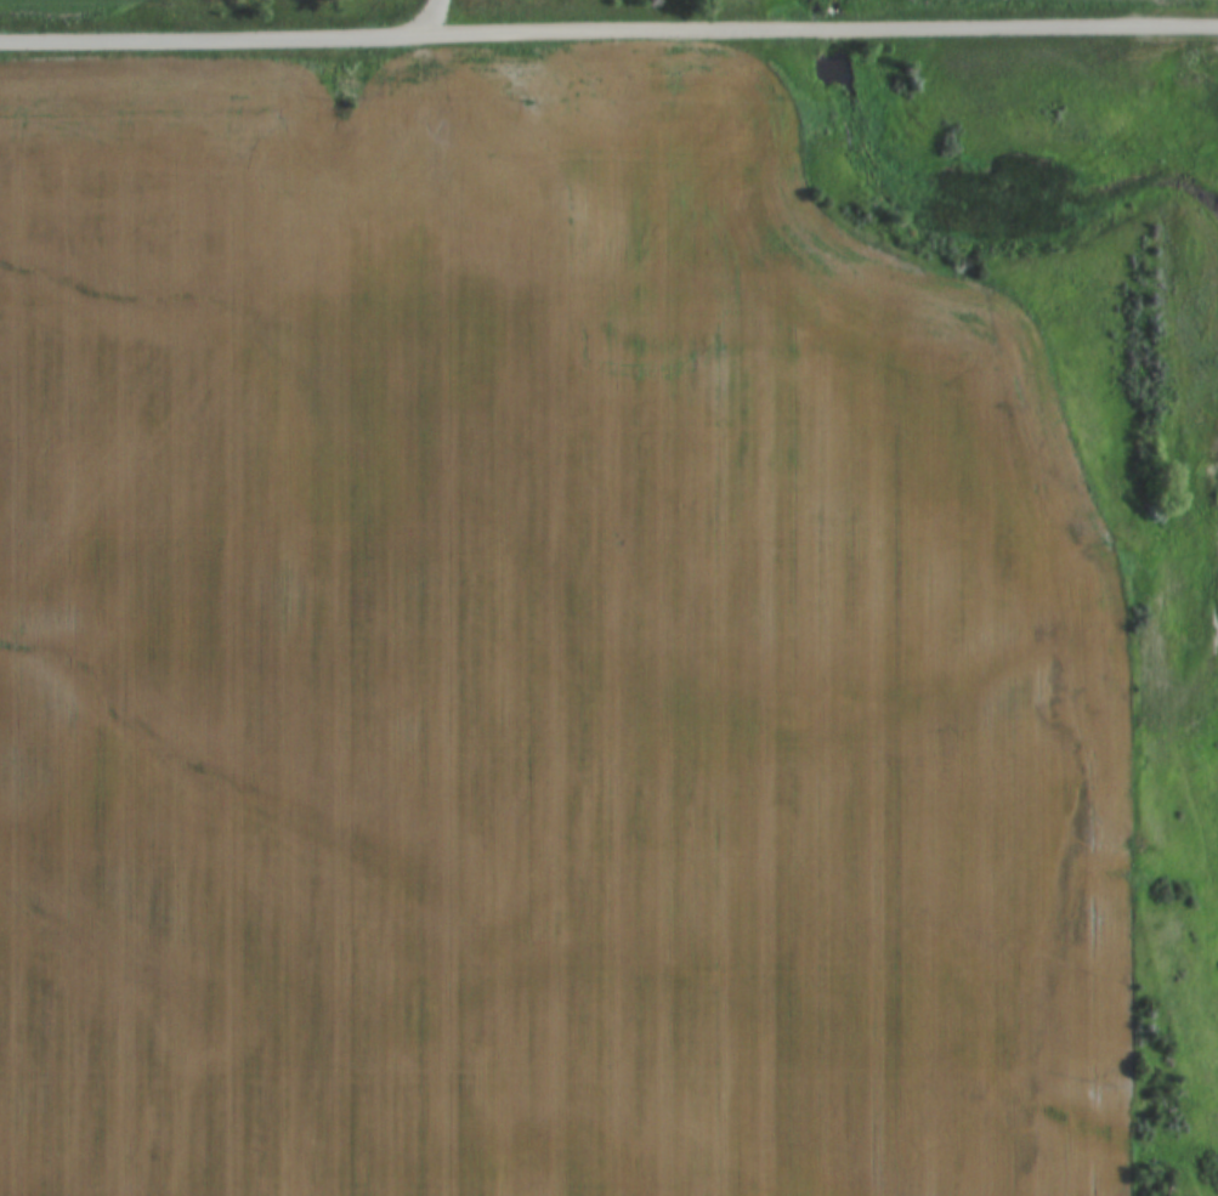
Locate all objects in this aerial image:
road: (426, 17)
road: (608, 33)

